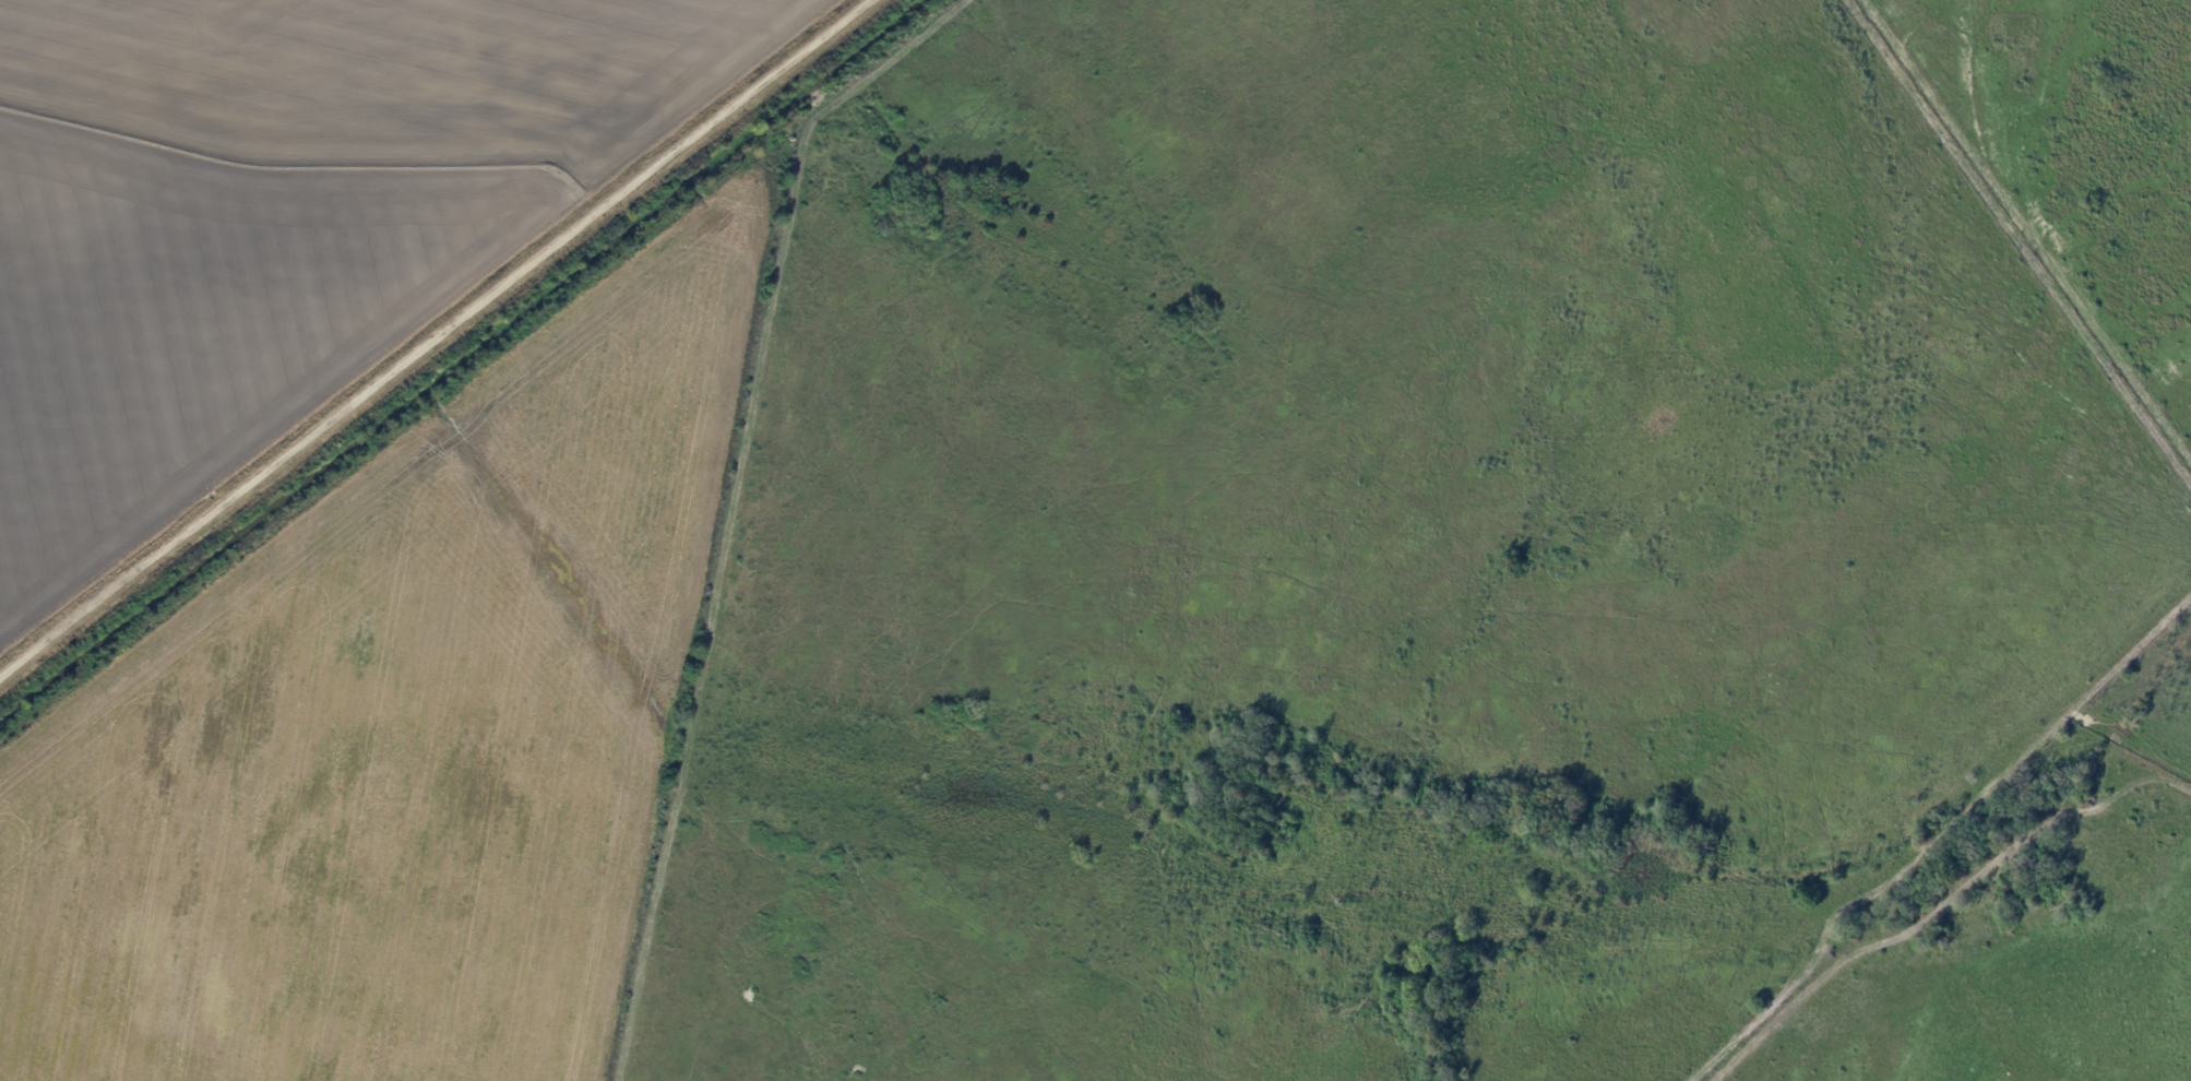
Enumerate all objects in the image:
road: (417, 336)

